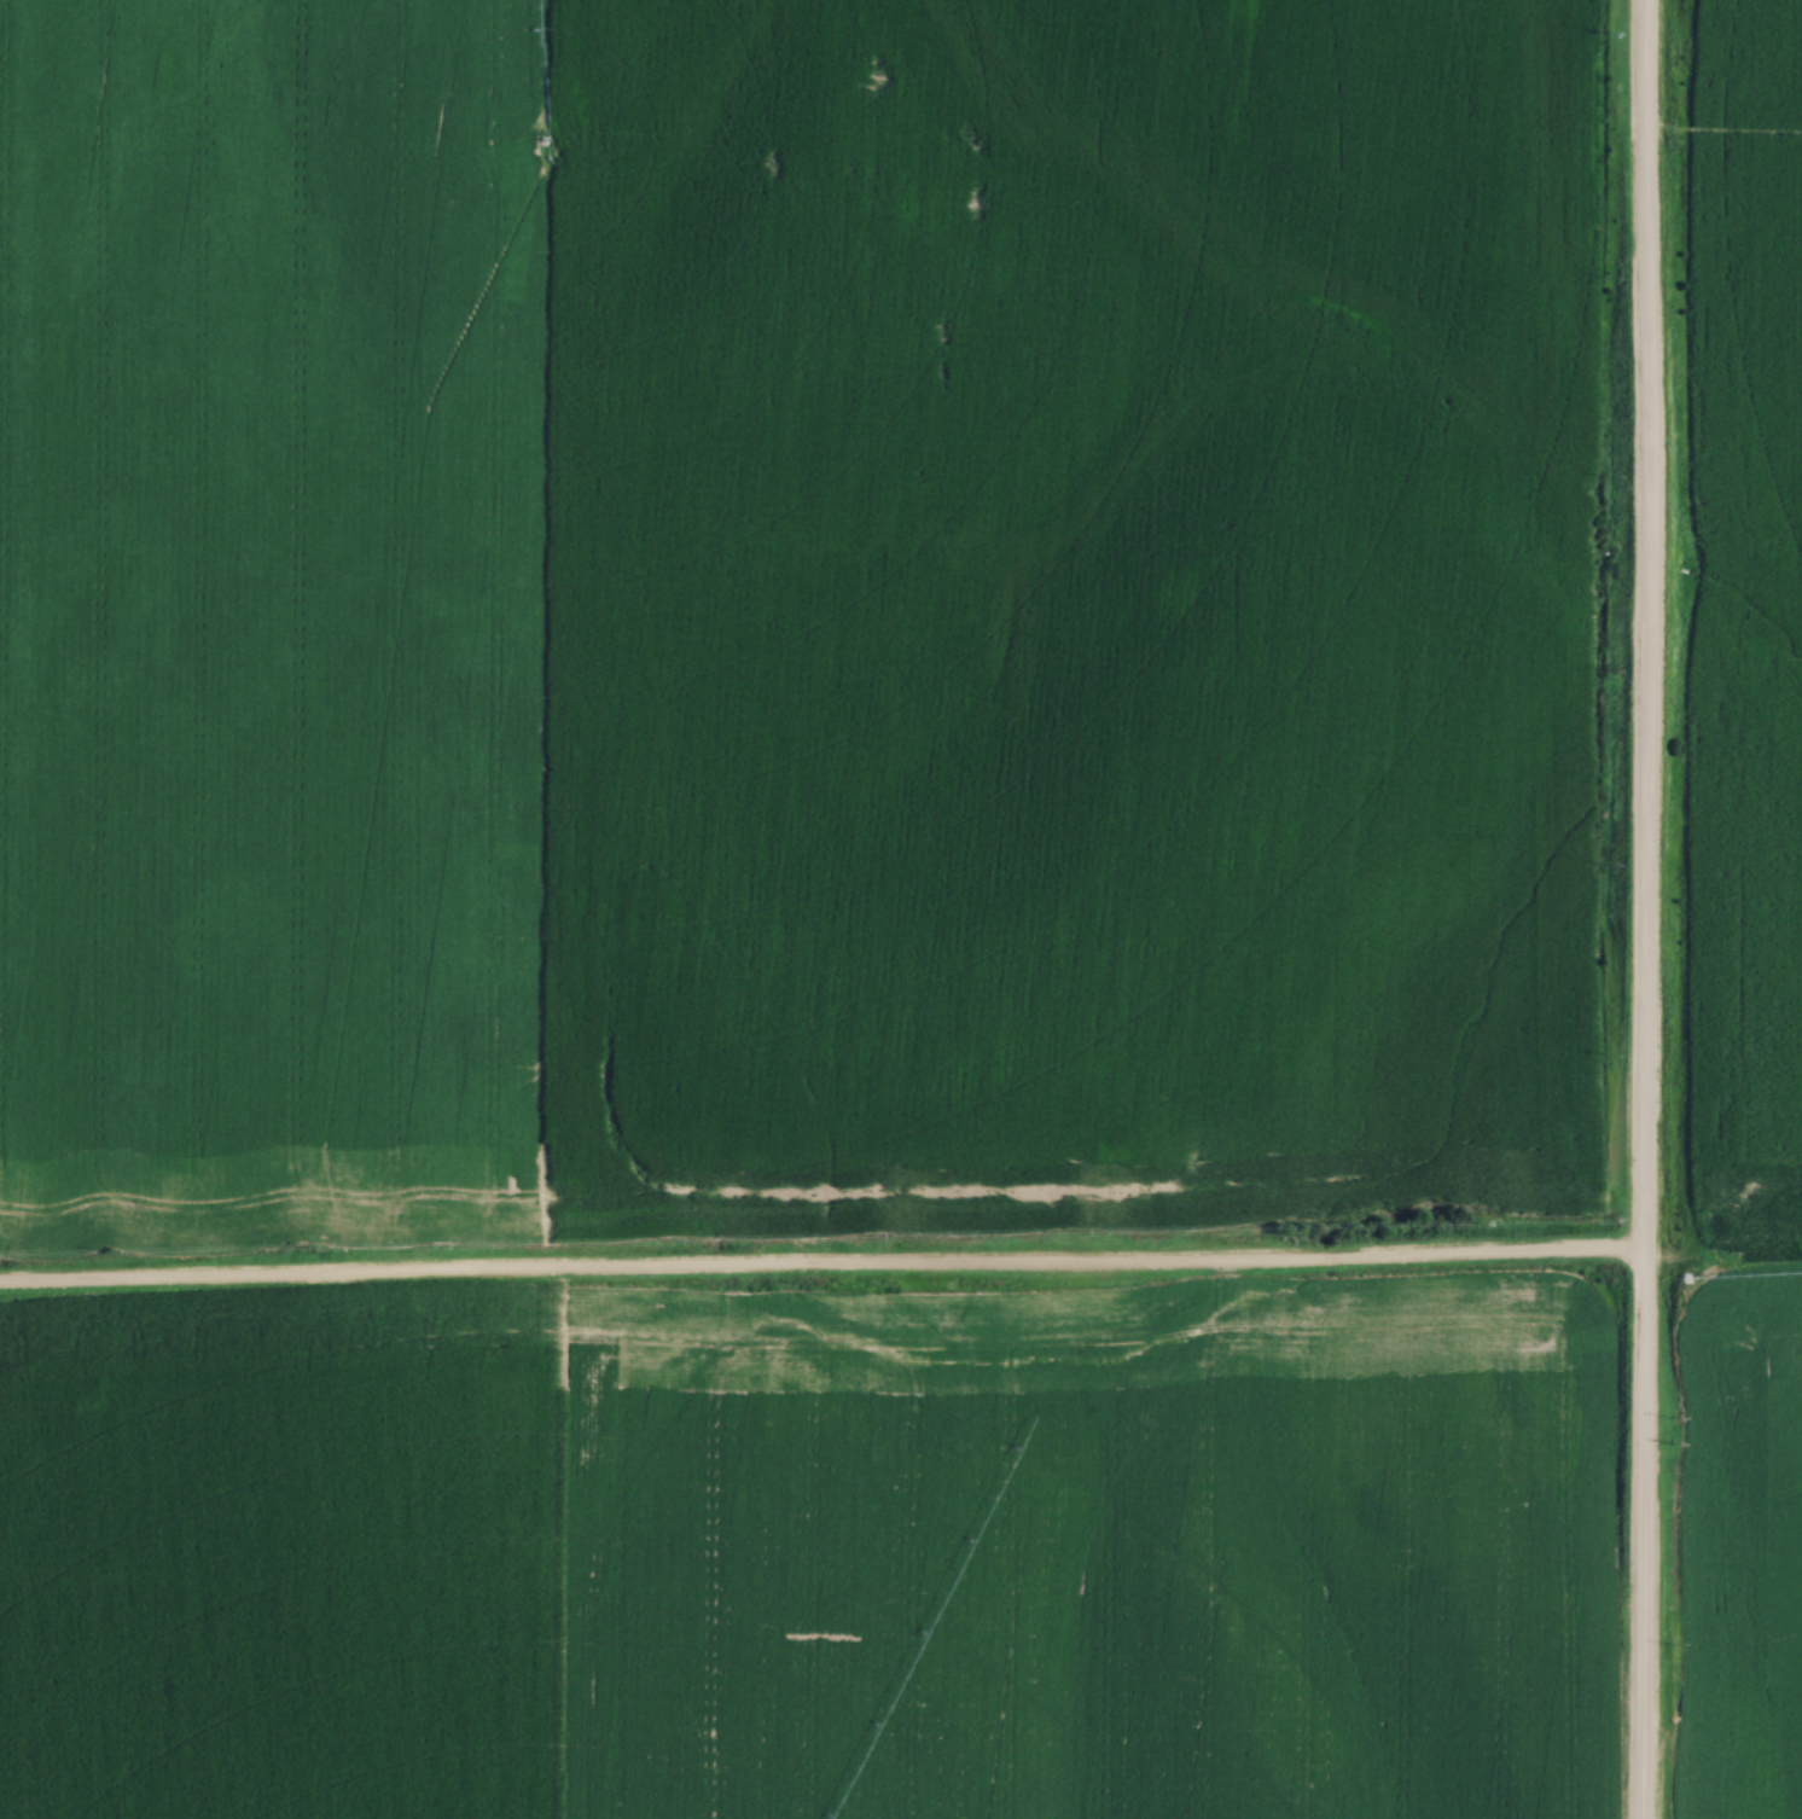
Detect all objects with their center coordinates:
road: (1647, 908)
road: (822, 1272)

